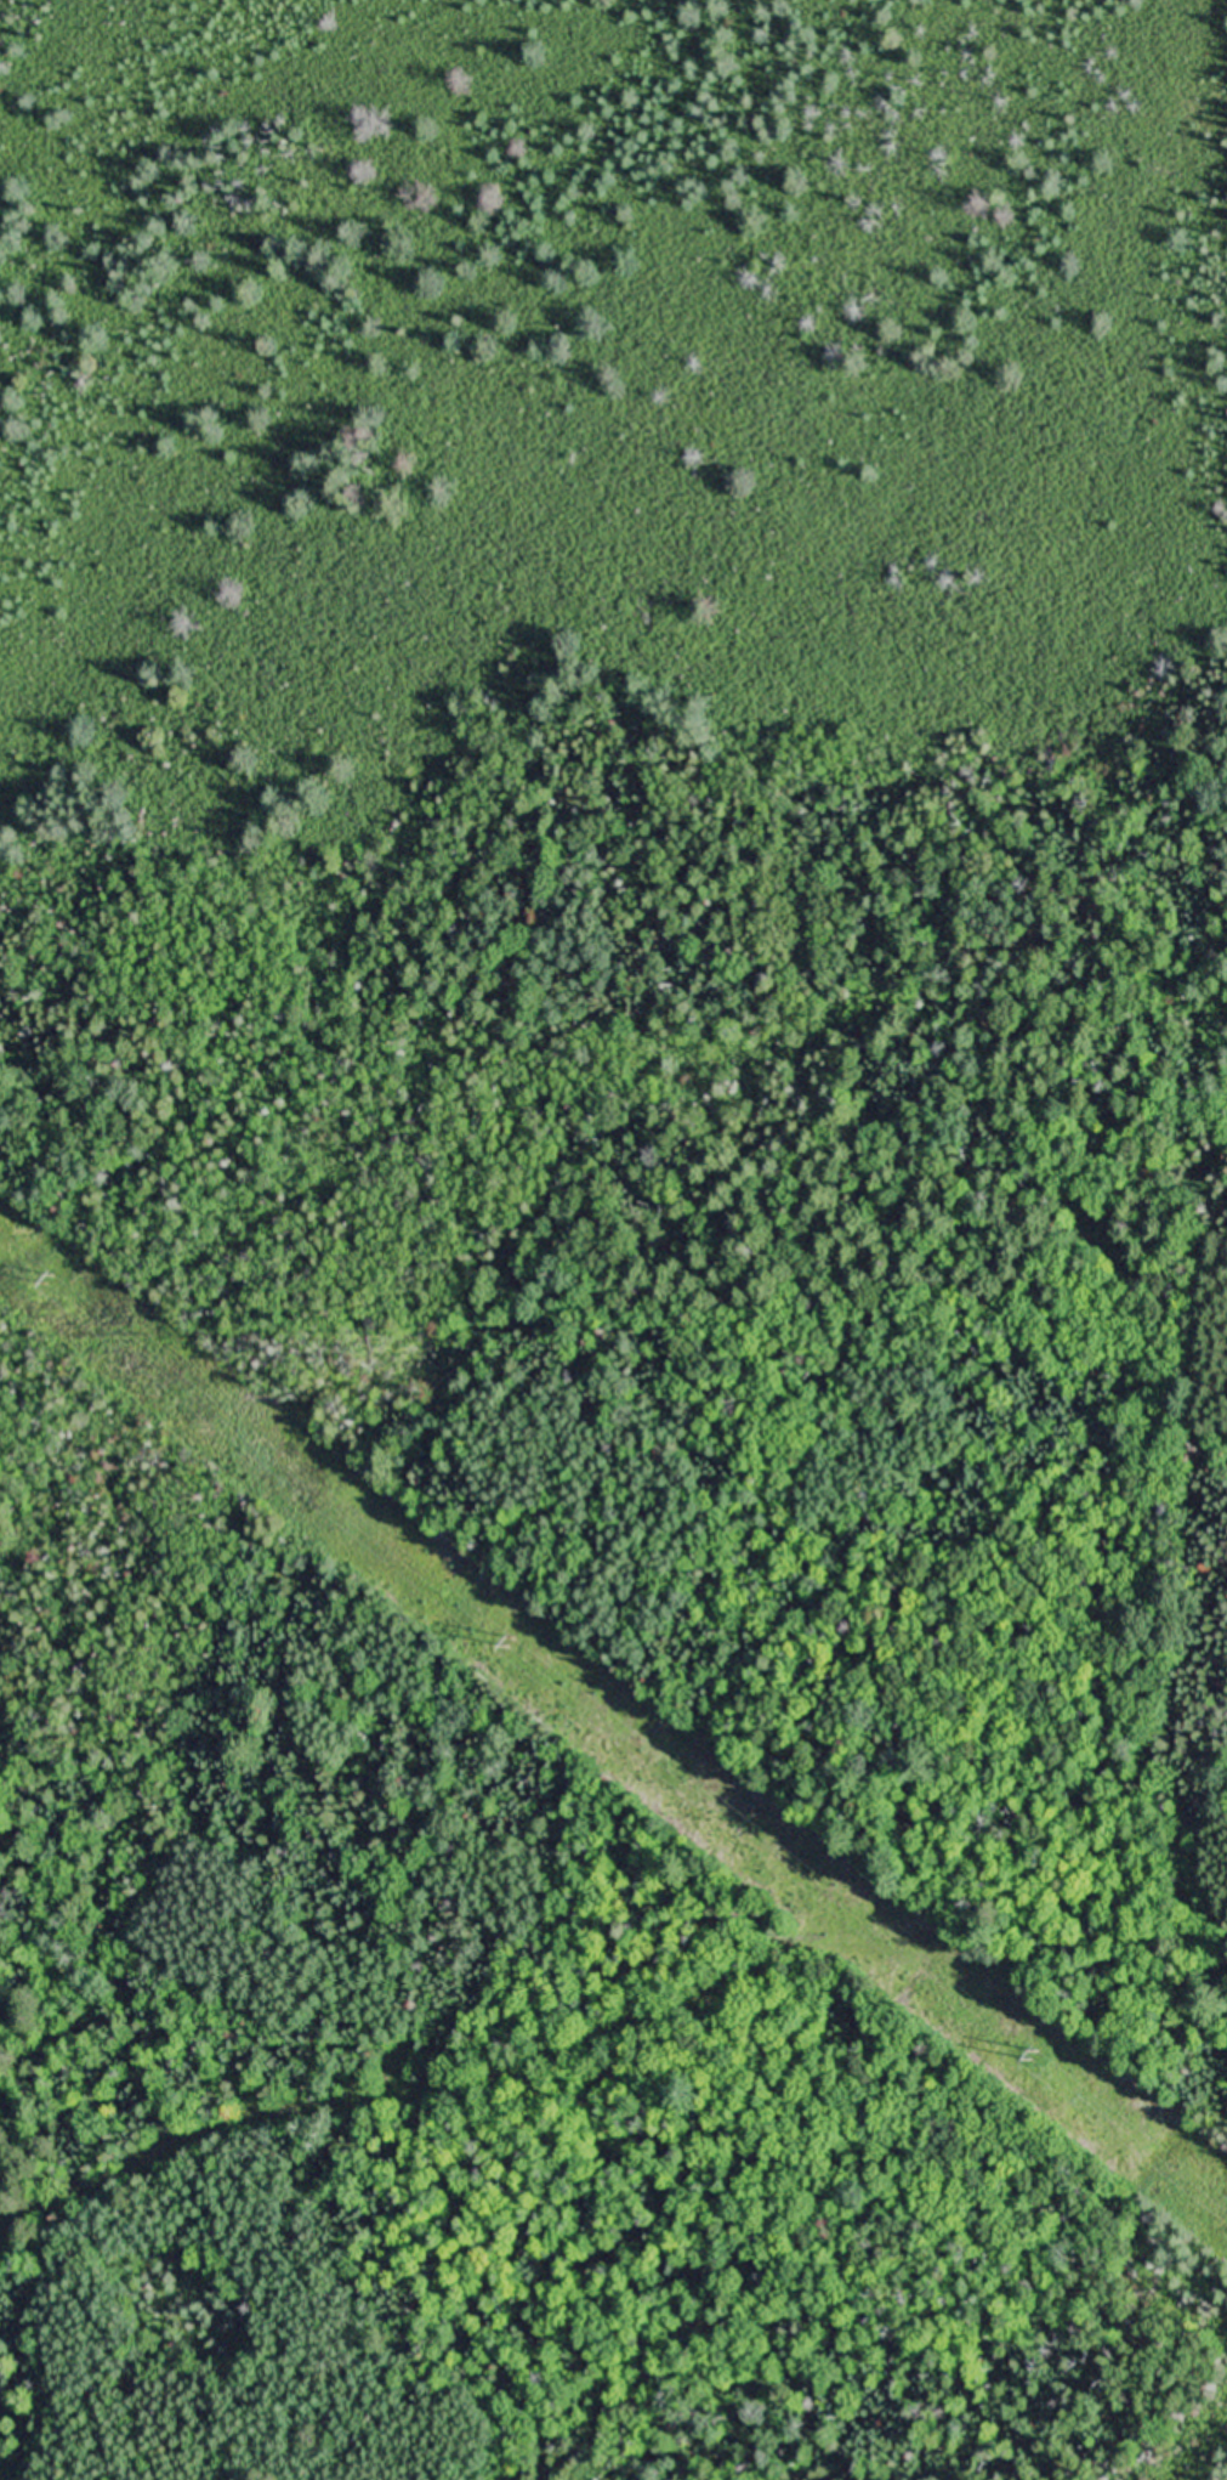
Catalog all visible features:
power tower: (52, 1280)
power tower: (513, 1640)
power tower: (1039, 2055)

